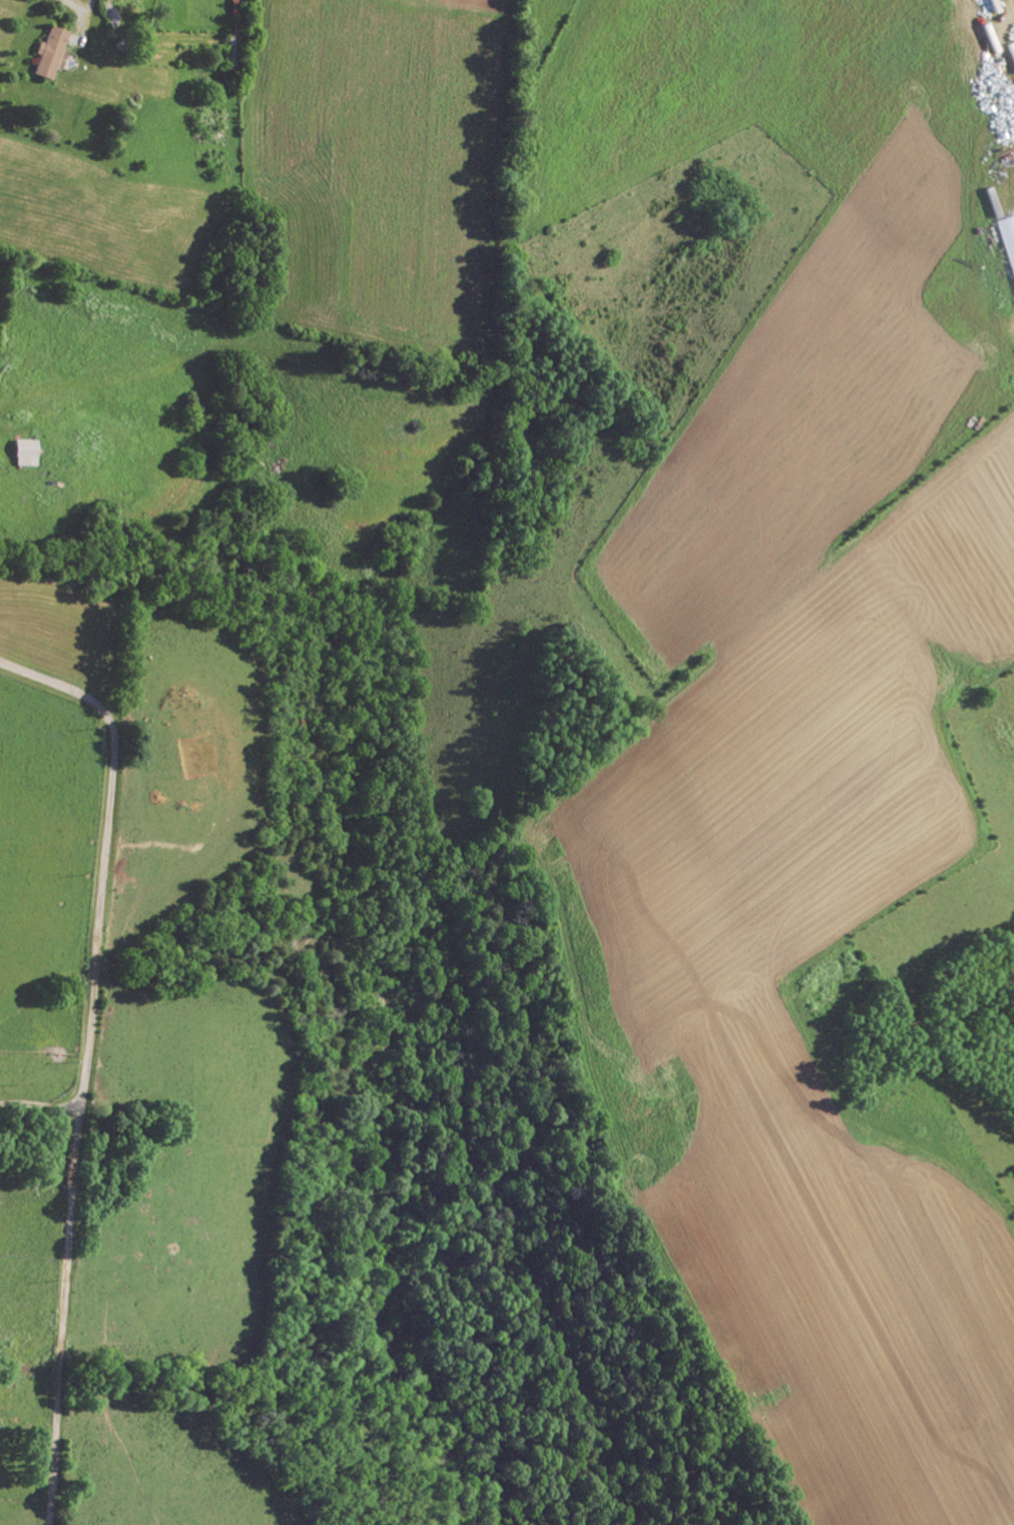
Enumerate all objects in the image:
road: (79, 17)
building: (53, 52)
building: (1008, 239)
building: (29, 453)
road: (88, 1057)
road: (40, 1103)

